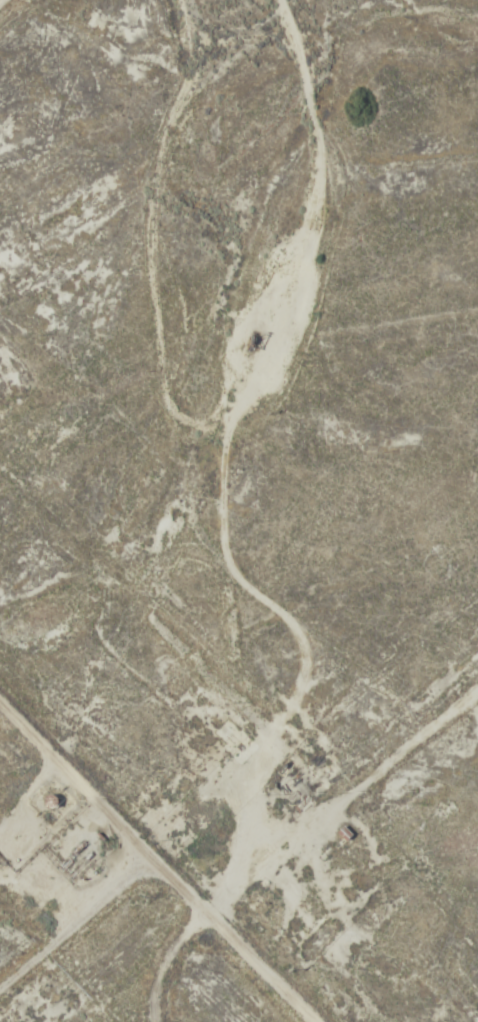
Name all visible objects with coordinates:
road: (227, 908)
road: (114, 960)
road: (312, 979)

